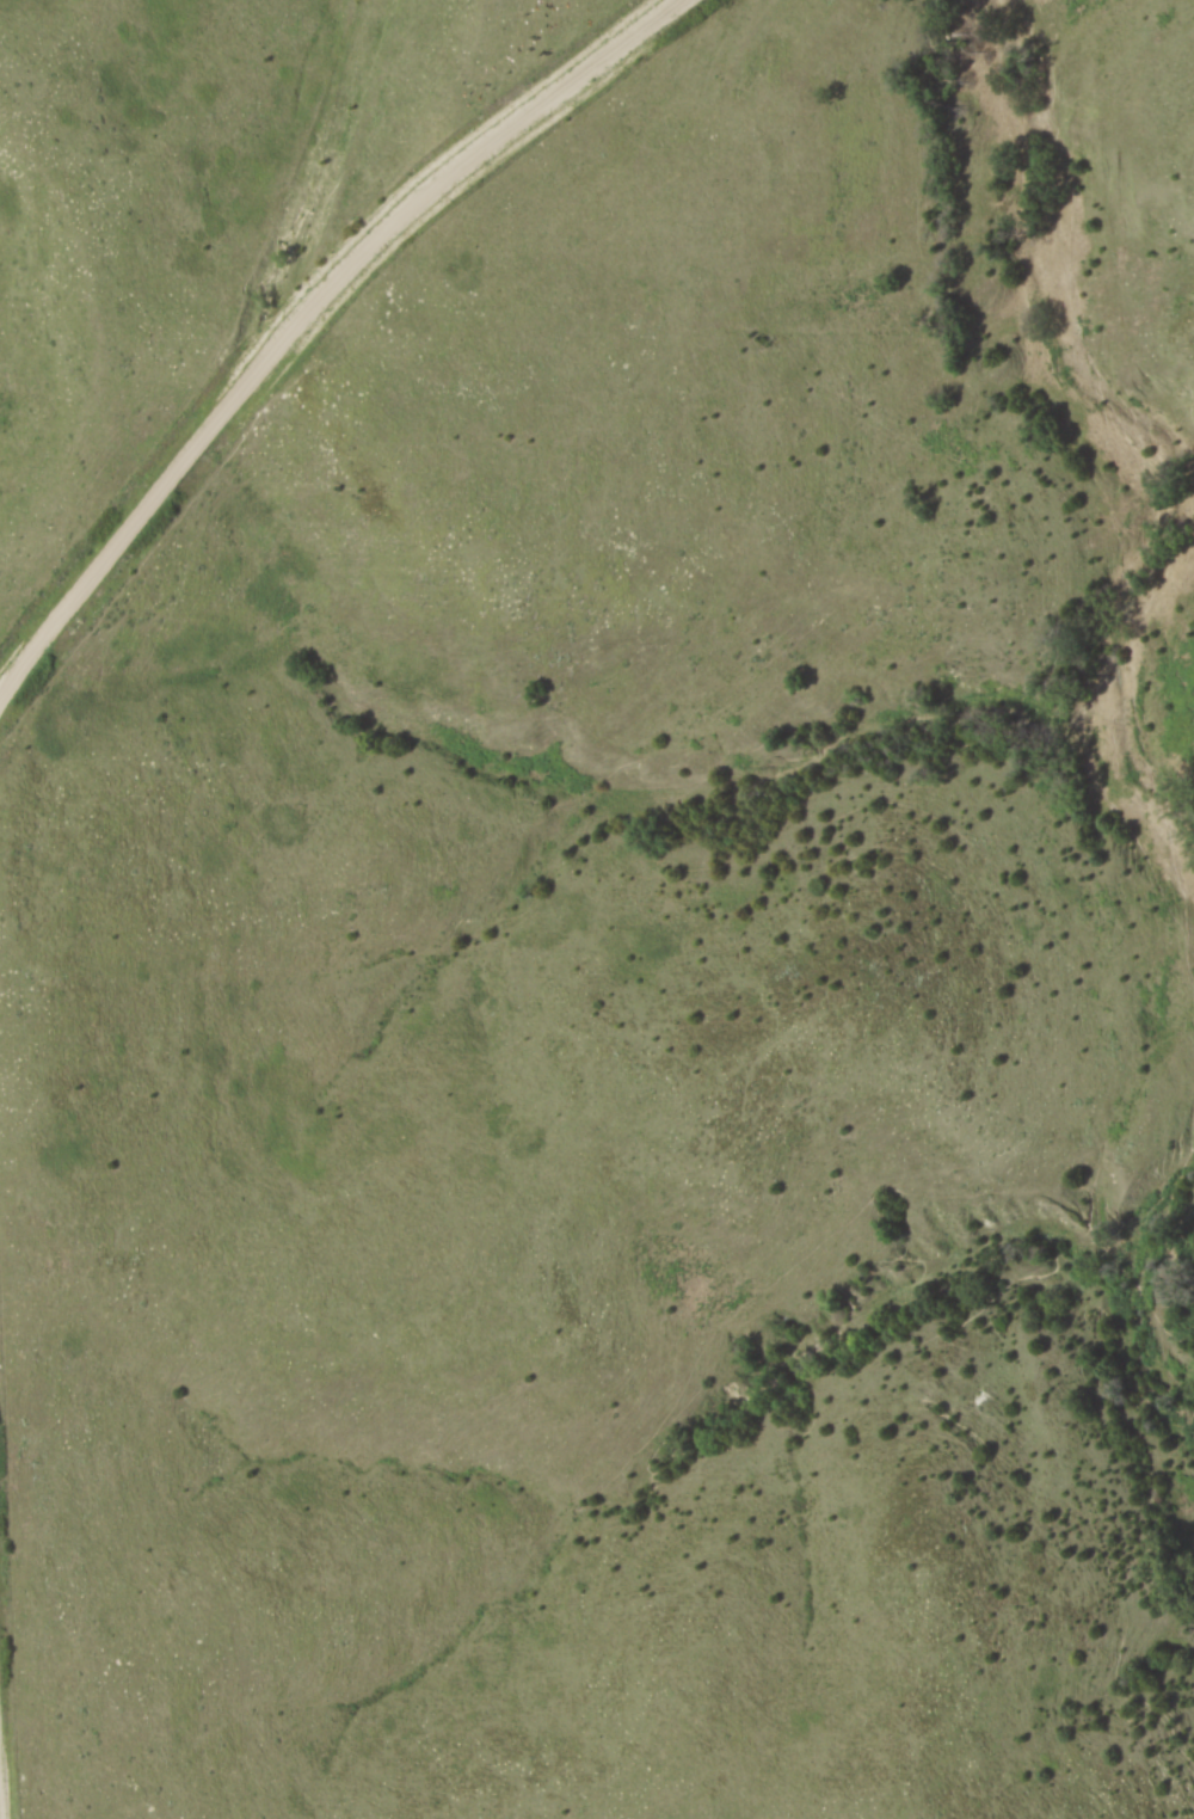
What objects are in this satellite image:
road: (306, 314)

